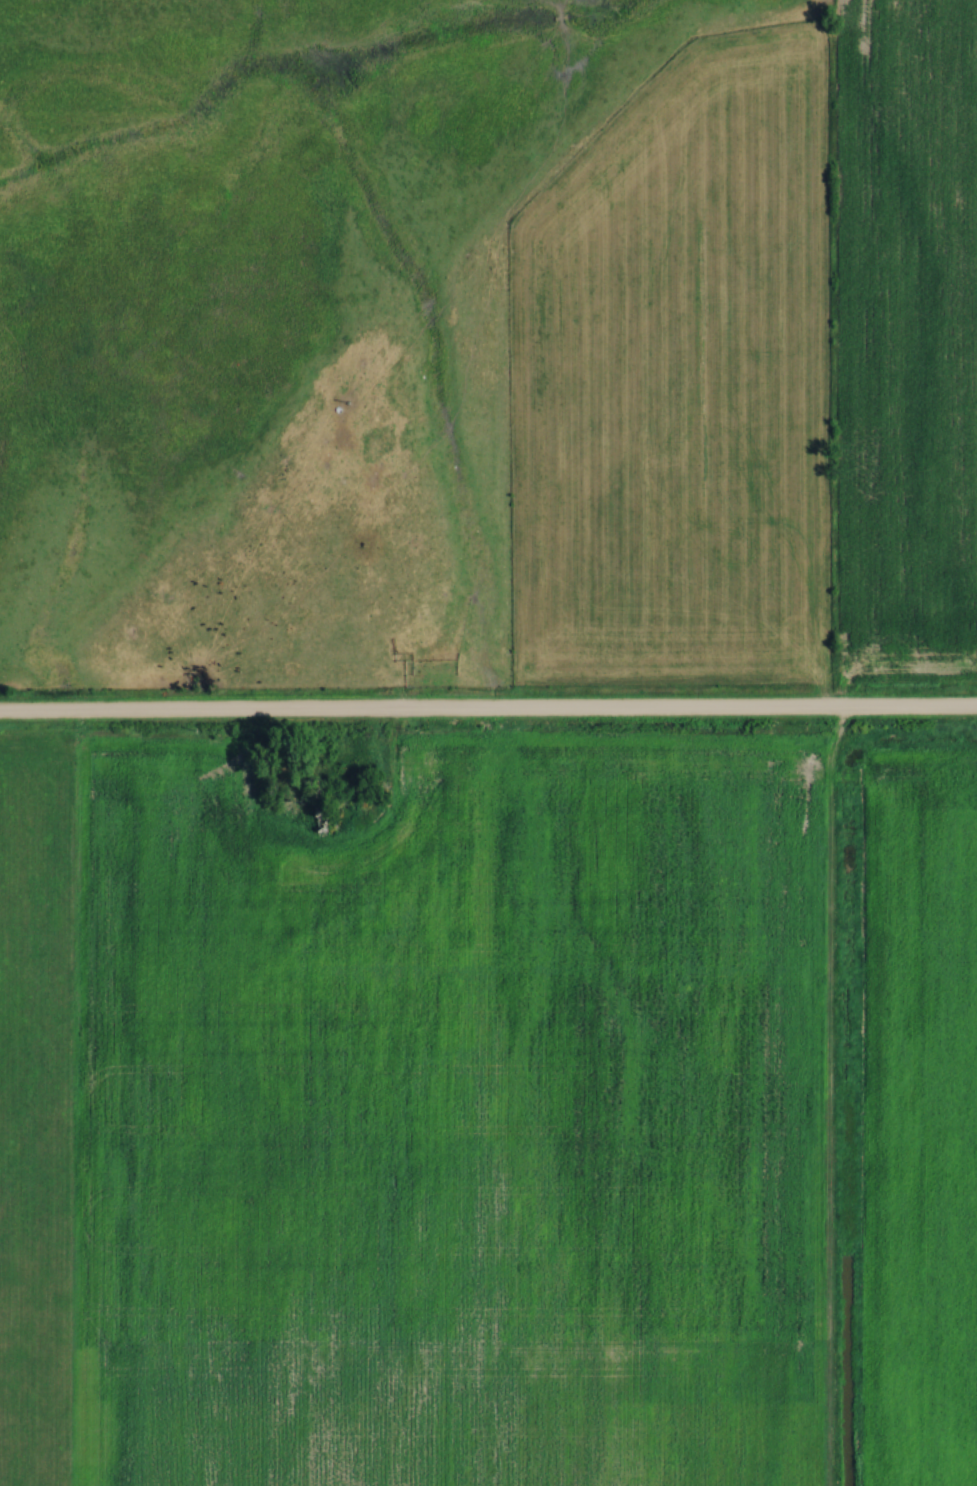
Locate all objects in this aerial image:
road: (488, 714)

